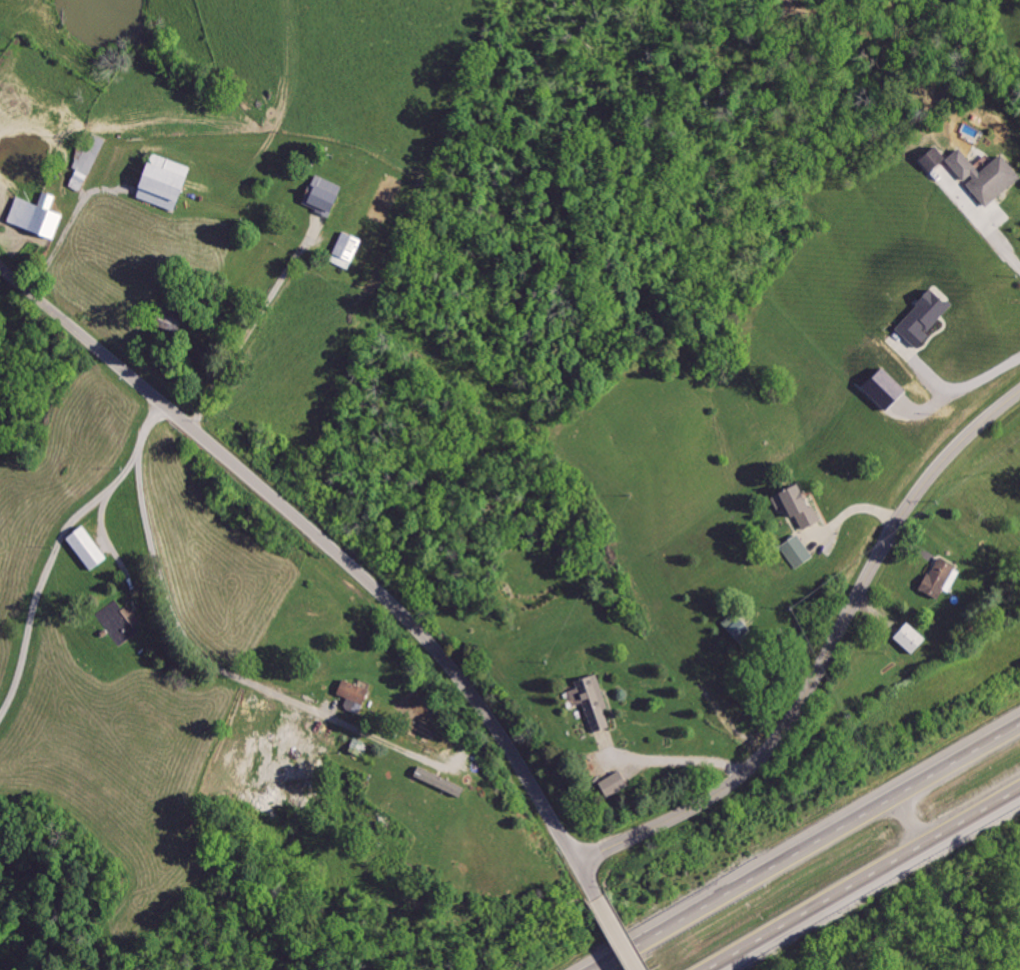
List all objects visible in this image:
building: (92, 161)
building: (981, 173)
building: (172, 183)
building: (328, 196)
building: (40, 215)
road: (72, 224)
road: (996, 234)
building: (349, 250)
building: (929, 318)
road: (249, 333)
building: (891, 389)
road: (960, 391)
building: (803, 506)
road: (851, 513)
road: (316, 532)
road: (59, 547)
building: (91, 548)
building: (801, 552)
building: (943, 578)
building: (126, 626)
building: (742, 629)
building: (916, 638)
road: (823, 656)
road: (225, 666)
building: (358, 696)
building: (599, 704)
road: (670, 762)
building: (444, 781)
building: (619, 784)
road: (807, 850)
road: (863, 877)
road: (589, 881)
road: (621, 937)

